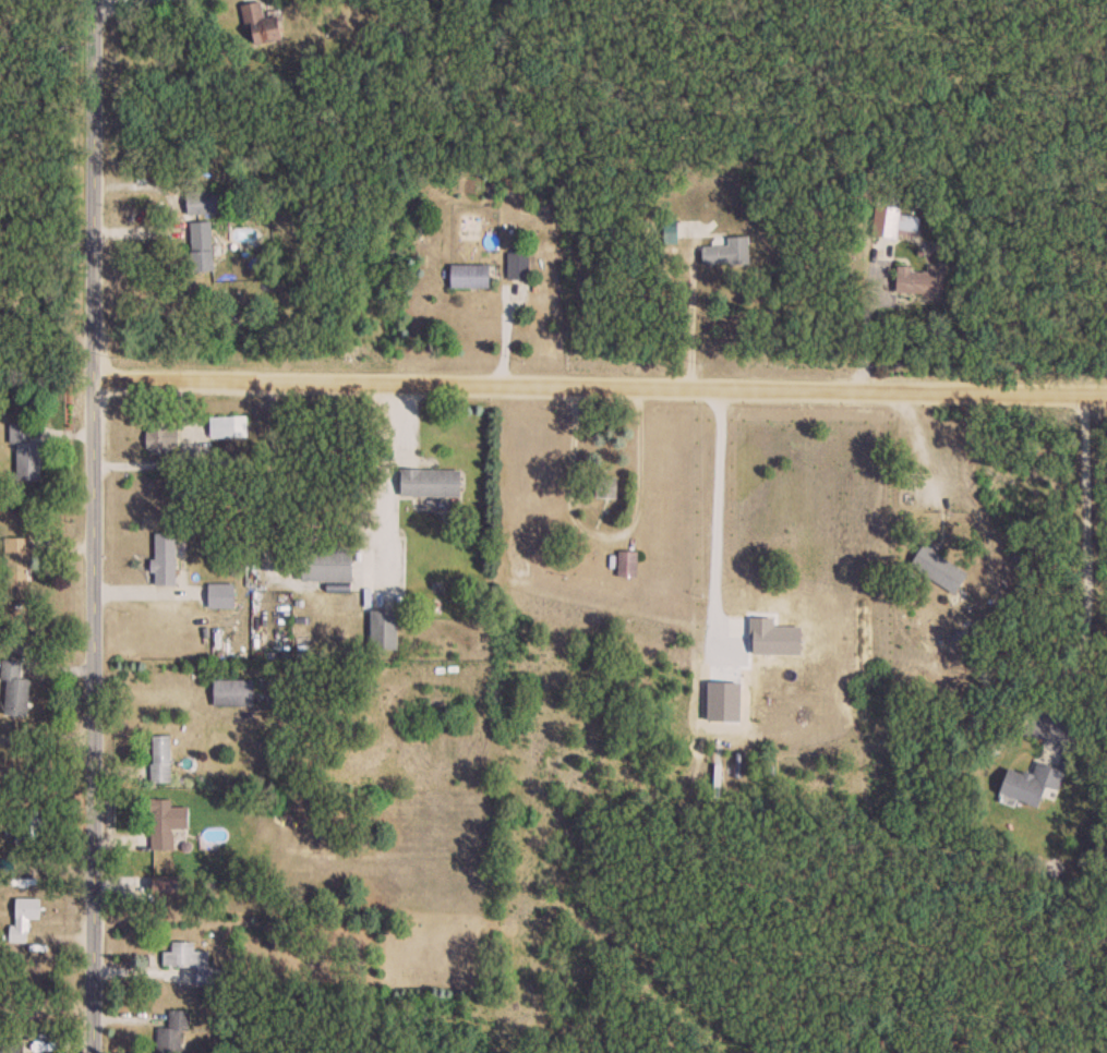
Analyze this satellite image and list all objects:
road: (99, 2)
building: (262, 25)
building: (203, 203)
building: (895, 222)
building: (203, 245)
road: (698, 247)
building: (730, 253)
building: (519, 266)
building: (471, 276)
building: (919, 281)
road: (869, 326)
road: (600, 390)
road: (34, 403)
building: (229, 426)
building: (161, 438)
road: (938, 451)
building: (27, 452)
road: (176, 461)
road: (377, 481)
building: (432, 484)
building: (607, 487)
road: (717, 506)
road: (94, 525)
road: (606, 535)
building: (166, 559)
road: (1085, 561)
building: (329, 564)
building: (628, 565)
building: (17, 569)
building: (940, 569)
building: (222, 592)
building: (385, 629)
building: (16, 689)
building: (234, 692)
building: (161, 759)
building: (1033, 784)
building: (167, 822)
building: (32, 825)
building: (28, 910)
building: (201, 966)
building: (173, 1034)
building: (11, 1048)

